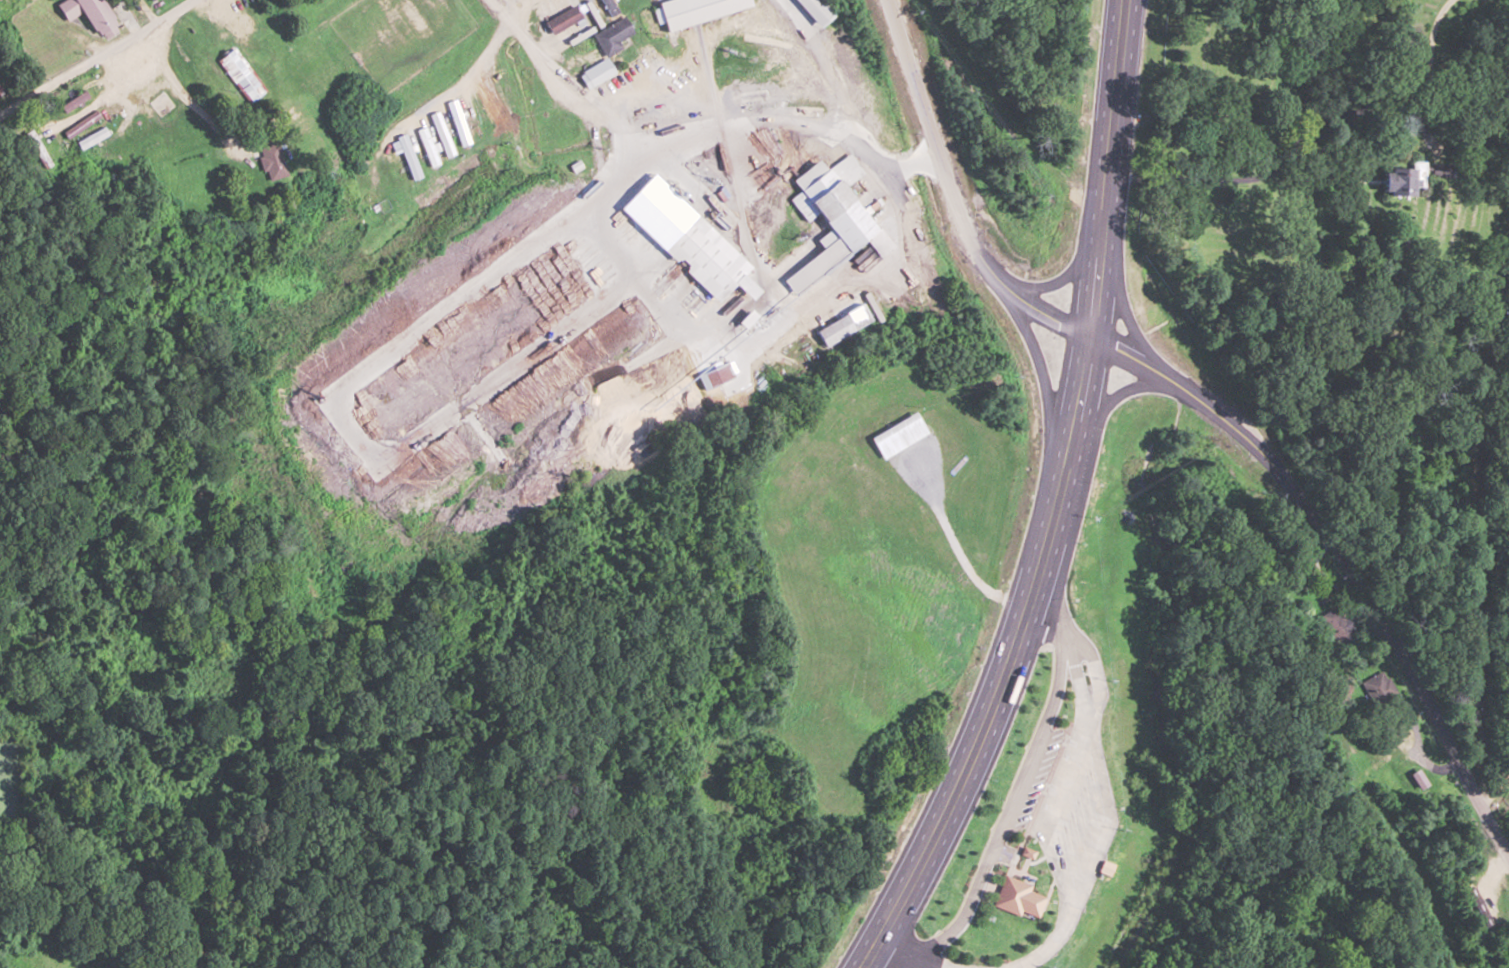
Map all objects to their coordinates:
building: (694, 10)
building: (814, 11)
building: (89, 14)
building: (564, 19)
building: (610, 35)
road: (97, 58)
building: (597, 73)
building: (240, 74)
building: (3, 83)
building: (72, 100)
building: (82, 122)
building: (91, 138)
building: (38, 152)
building: (272, 161)
building: (1438, 169)
building: (1399, 178)
road: (953, 193)
building: (830, 222)
road: (1061, 277)
road: (1125, 308)
building: (835, 330)
building: (715, 375)
road: (1045, 393)
road: (1108, 400)
road: (1055, 501)
road: (1341, 557)
building: (1337, 627)
building: (1374, 686)
road: (1493, 786)
building: (1464, 866)
building: (1028, 902)
building: (1477, 907)

